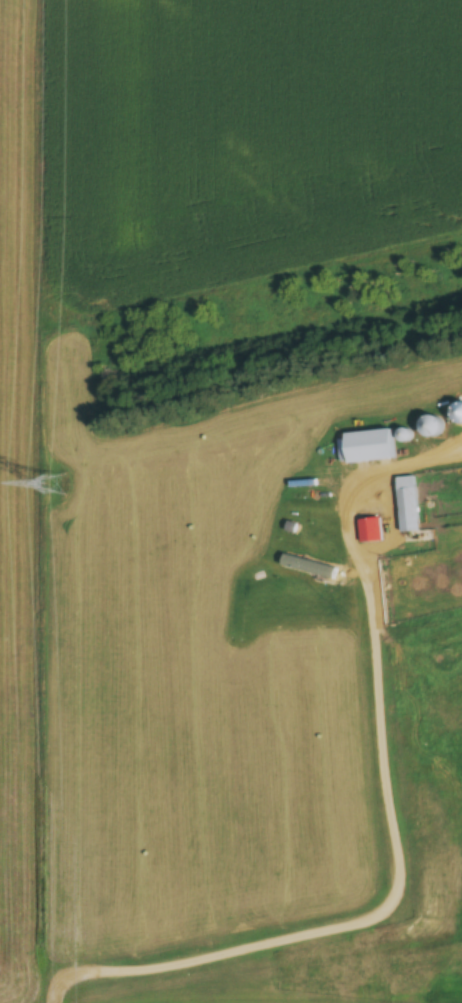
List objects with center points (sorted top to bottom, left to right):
building: (431, 427)
building: (367, 448)
power tower: (54, 486)
building: (407, 505)
building: (373, 531)

